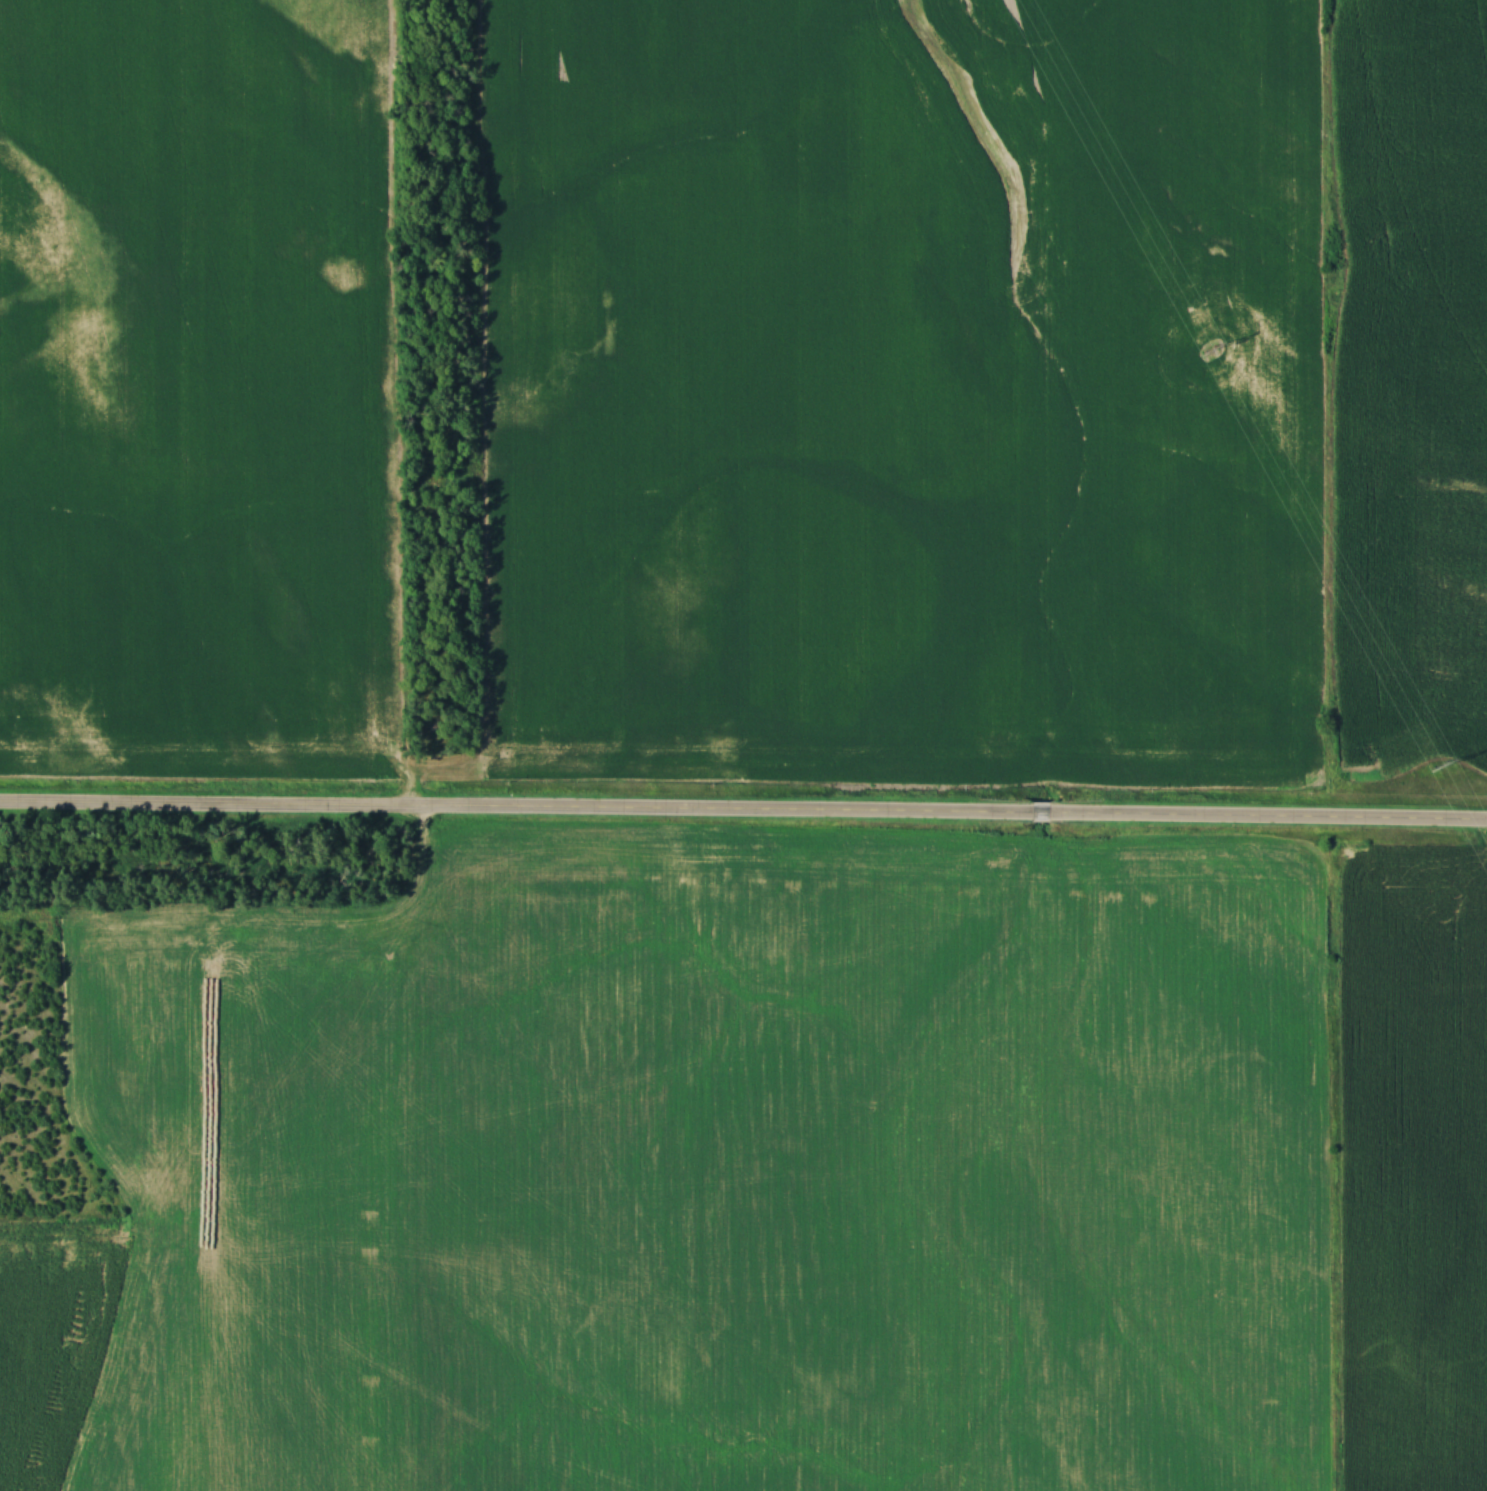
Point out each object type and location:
power tower: (1210, 350)
power tower: (1440, 761)
road: (743, 817)

